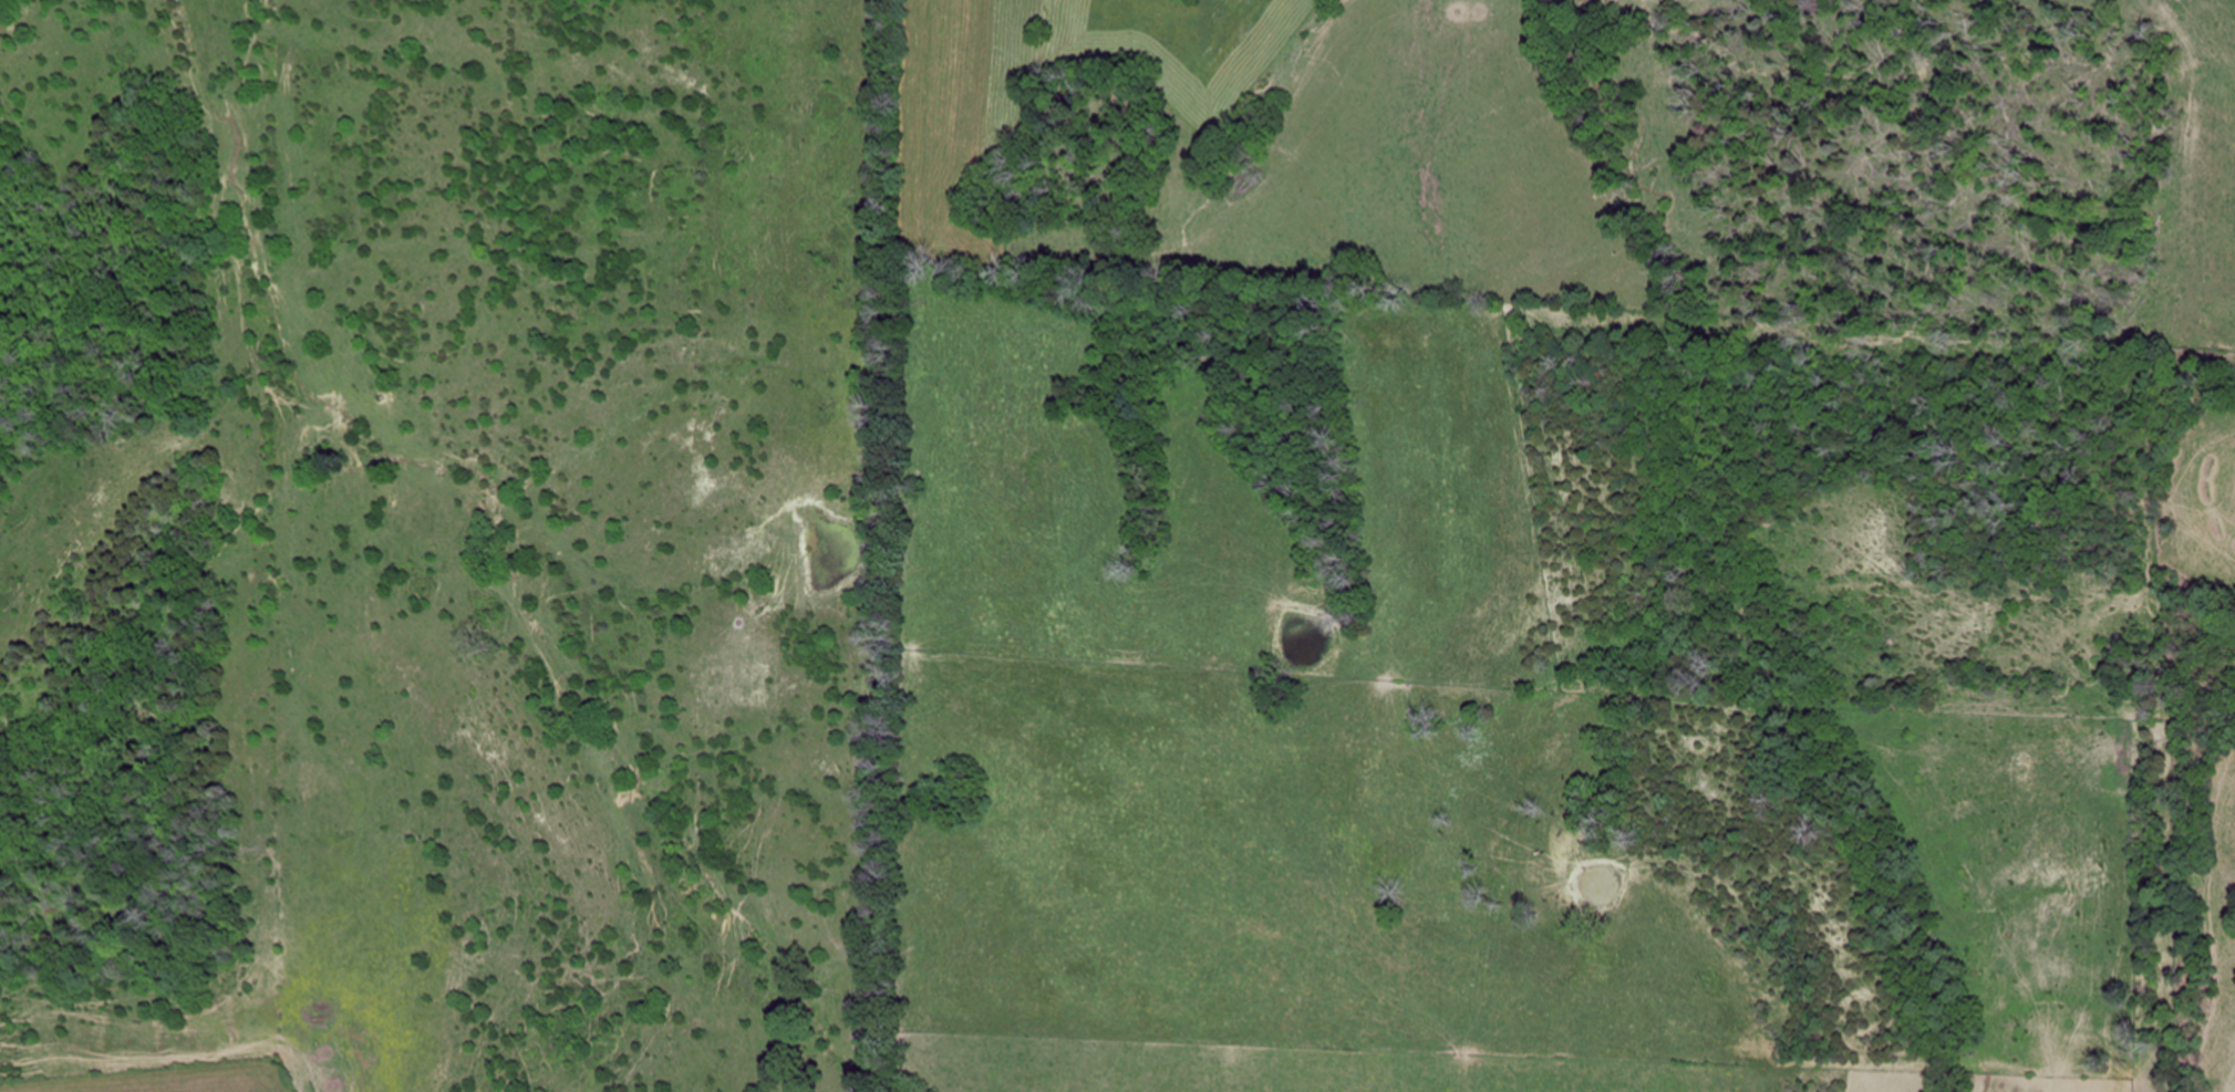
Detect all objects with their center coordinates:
building: (1275, 935)
road: (1418, 1021)

